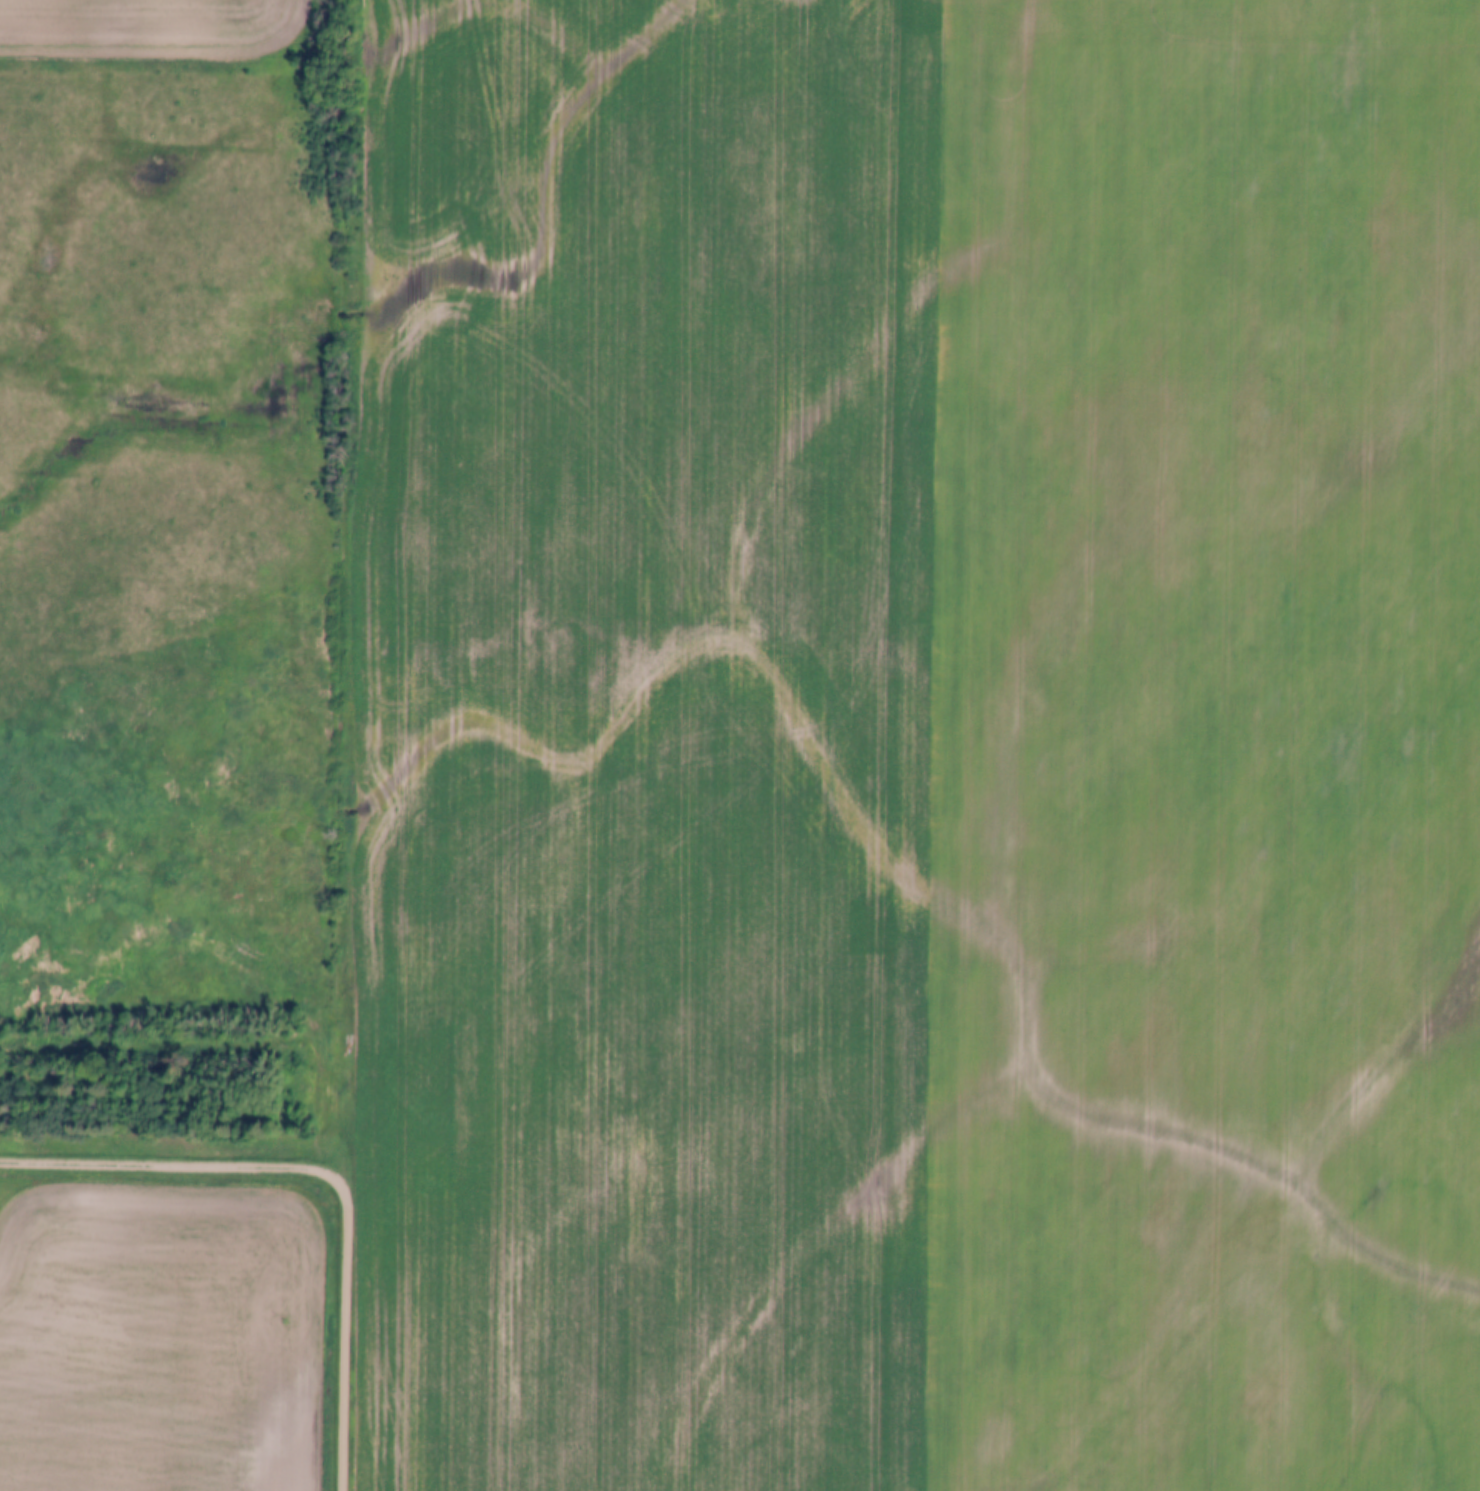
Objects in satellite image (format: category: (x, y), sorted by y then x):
road: (173, 1162)
road: (356, 1330)

